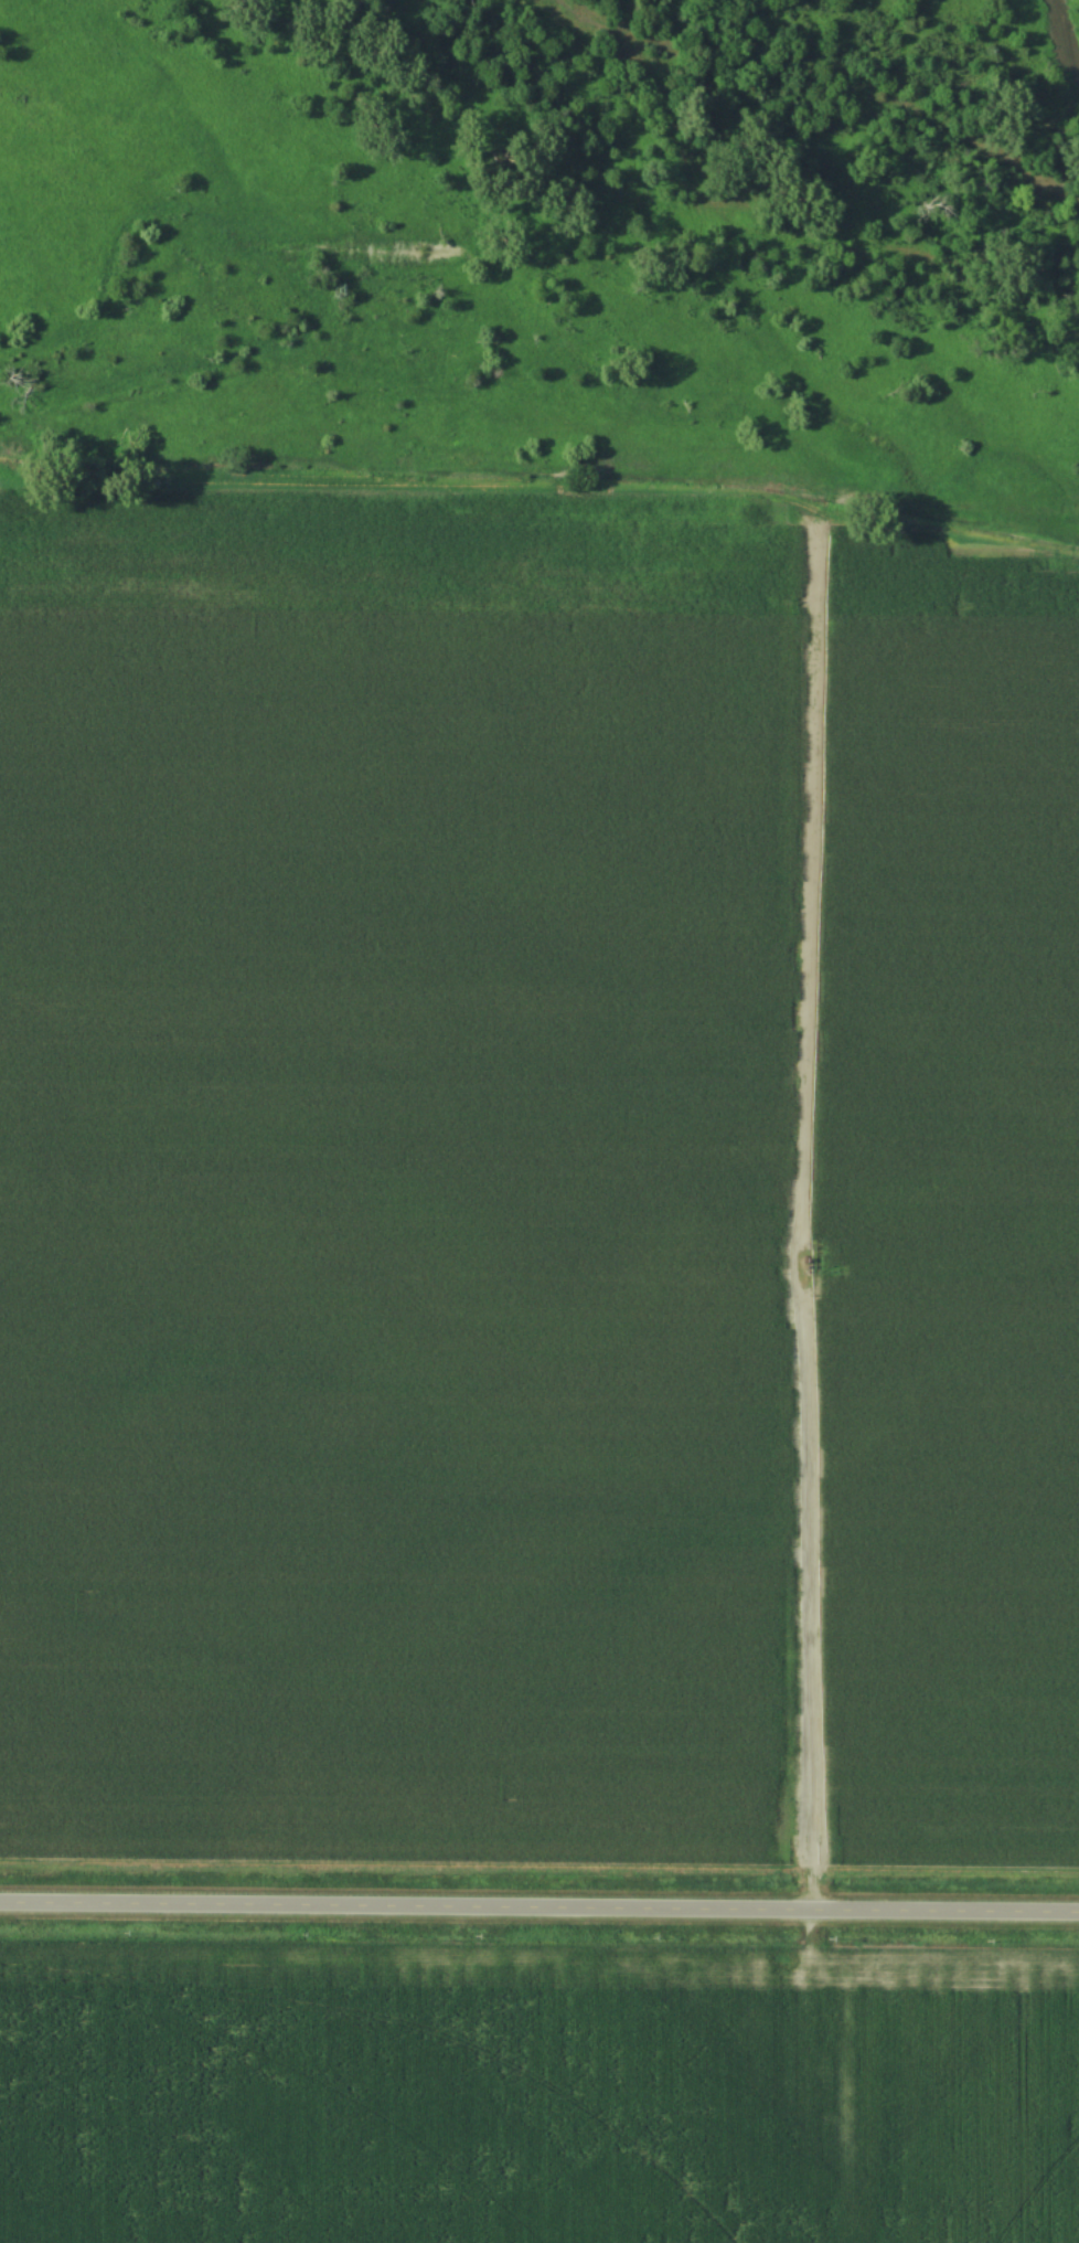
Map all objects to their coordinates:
road: (538, 1910)

